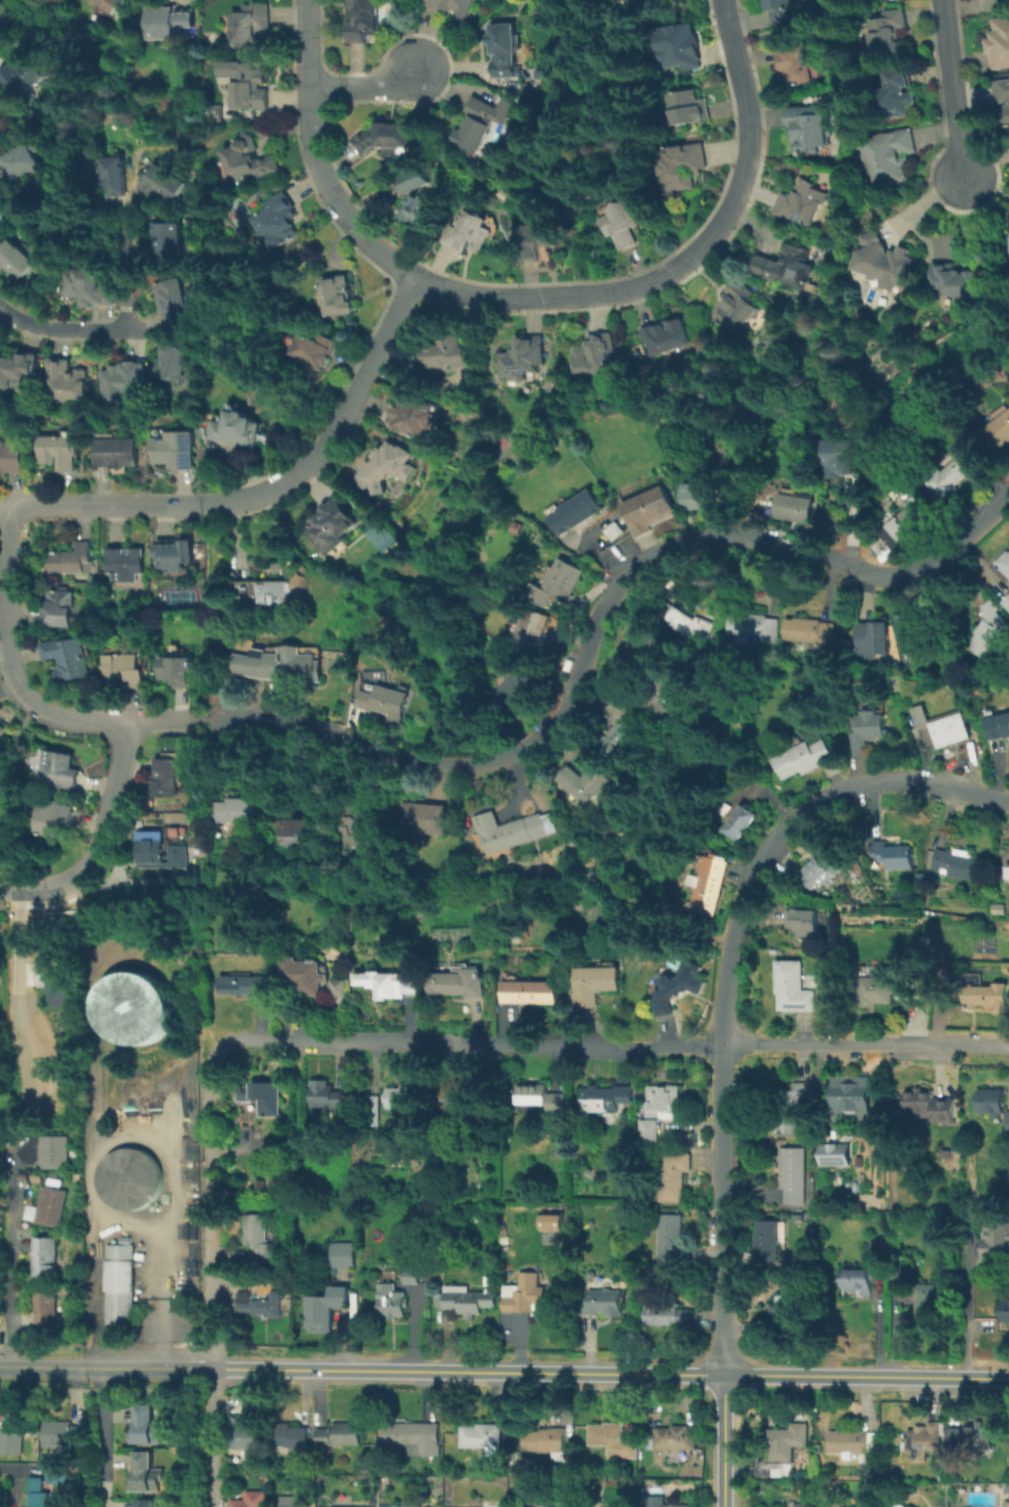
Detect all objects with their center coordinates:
building: (866, 0)
building: (648, 1)
building: (109, 4)
building: (453, 7)
building: (780, 11)
building: (5, 16)
building: (361, 19)
building: (167, 21)
building: (248, 24)
building: (883, 32)
building: (1000, 43)
building: (503, 48)
building: (680, 48)
building: (795, 59)
building: (22, 76)
road: (362, 83)
building: (248, 85)
road: (950, 90)
building: (896, 93)
building: (1004, 99)
building: (687, 108)
building: (475, 124)
building: (808, 128)
building: (385, 137)
road: (313, 157)
building: (888, 157)
building: (24, 160)
building: (246, 160)
building: (681, 166)
building: (112, 174)
building: (413, 180)
building: (162, 181)
building: (801, 202)
building: (420, 211)
building: (276, 219)
building: (621, 225)
building: (467, 232)
building: (166, 237)
building: (538, 241)
road: (683, 259)
building: (16, 260)
building: (884, 262)
building: (787, 265)
road: (123, 273)
building: (953, 280)
building: (87, 287)
building: (335, 296)
building: (172, 298)
building: (736, 305)
road: (61, 330)
building: (666, 336)
building: (314, 353)
building: (446, 353)
building: (596, 355)
building: (521, 360)
building: (177, 364)
building: (18, 370)
building: (125, 380)
building: (67, 382)
building: (412, 415)
road: (337, 421)
building: (243, 430)
building: (999, 432)
building: (176, 451)
building: (59, 452)
building: (117, 453)
building: (11, 456)
building: (842, 458)
building: (386, 468)
building: (955, 474)
building: (705, 494)
road: (1, 503)
road: (104, 503)
building: (793, 507)
building: (575, 511)
building: (652, 513)
building: (905, 524)
building: (332, 526)
building: (616, 528)
park: (376, 535)
building: (175, 554)
building: (72, 559)
building: (127, 563)
building: (1005, 563)
building: (563, 580)
building: (262, 600)
building: (1007, 602)
building: (60, 608)
road: (601, 613)
building: (688, 620)
building: (754, 629)
building: (812, 630)
building: (989, 630)
building: (534, 633)
building: (915, 635)
building: (874, 637)
building: (67, 661)
building: (278, 667)
building: (179, 670)
building: (124, 671)
road: (15, 686)
building: (515, 689)
building: (659, 691)
building: (386, 702)
road: (202, 717)
building: (943, 724)
building: (998, 726)
building: (1, 728)
building: (868, 729)
building: (1, 733)
building: (622, 739)
building: (804, 757)
building: (58, 770)
building: (166, 778)
building: (584, 782)
building: (241, 810)
building: (54, 820)
building: (420, 821)
building: (740, 822)
road: (784, 822)
building: (353, 827)
building: (512, 830)
building: (300, 833)
road: (99, 839)
building: (161, 852)
building: (894, 856)
building: (956, 864)
building: (1008, 870)
building: (818, 872)
building: (592, 876)
road: (118, 881)
building: (710, 885)
building: (997, 908)
building: (805, 922)
building: (925, 940)
building: (305, 974)
building: (388, 984)
building: (60, 985)
building: (456, 985)
building: (595, 985)
building: (247, 986)
building: (337, 986)
building: (792, 986)
building: (677, 987)
building: (878, 989)
building: (527, 991)
building: (984, 991)
building: (131, 1007)
storage tank: (131, 1007)
road: (467, 1042)
road: (865, 1047)
building: (51, 1095)
building: (848, 1095)
building: (263, 1098)
building: (406, 1099)
building: (460, 1099)
building: (542, 1099)
building: (330, 1100)
building: (609, 1100)
building: (664, 1102)
building: (990, 1102)
building: (791, 1107)
building: (928, 1107)
building: (374, 1111)
building: (1007, 1121)
building: (648, 1132)
building: (683, 1138)
building: (46, 1149)
building: (832, 1152)
building: (945, 1154)
building: (791, 1173)
building: (676, 1175)
building: (128, 1178)
storage tank: (128, 1178)
building: (49, 1208)
road: (722, 1211)
building: (549, 1221)
building: (259, 1237)
building: (671, 1239)
building: (769, 1239)
building: (996, 1241)
building: (876, 1251)
building: (345, 1255)
building: (45, 1256)
building: (895, 1268)
building: (412, 1274)
road: (211, 1277)
building: (857, 1279)
road: (11, 1280)
building: (121, 1285)
building: (528, 1296)
building: (933, 1298)
building: (461, 1301)
building: (391, 1302)
building: (605, 1302)
building: (262, 1305)
building: (782, 1306)
building: (46, 1308)
building: (328, 1310)
building: (1007, 1310)
road: (968, 1315)
building: (666, 1316)
road: (877, 1321)
road: (891, 1330)
road: (101, 1367)
road: (208, 1368)
road: (468, 1371)
road: (866, 1376)
building: (148, 1427)
building: (11, 1433)
building: (67, 1435)
building: (978, 1435)
building: (242, 1436)
building: (291, 1436)
building: (339, 1436)
building: (954, 1436)
building: (415, 1437)
building: (674, 1437)
road: (101, 1438)
building: (553, 1439)
building: (926, 1439)
building: (484, 1440)
building: (613, 1440)
road: (723, 1441)
building: (787, 1442)
building: (853, 1443)
building: (774, 1467)
building: (147, 1475)
building: (58, 1476)
building: (1006, 1488)
building: (42, 1495)
building: (252, 1501)
building: (290, 1502)
building: (655, 1502)
building: (147, 1504)
building: (800, 1504)
building: (336, 1506)
building: (399, 1506)
building: (499, 1506)
building: (550, 1506)
building: (844, 1506)
building: (865, 1506)
building: (889, 1506)
building: (900, 1506)

